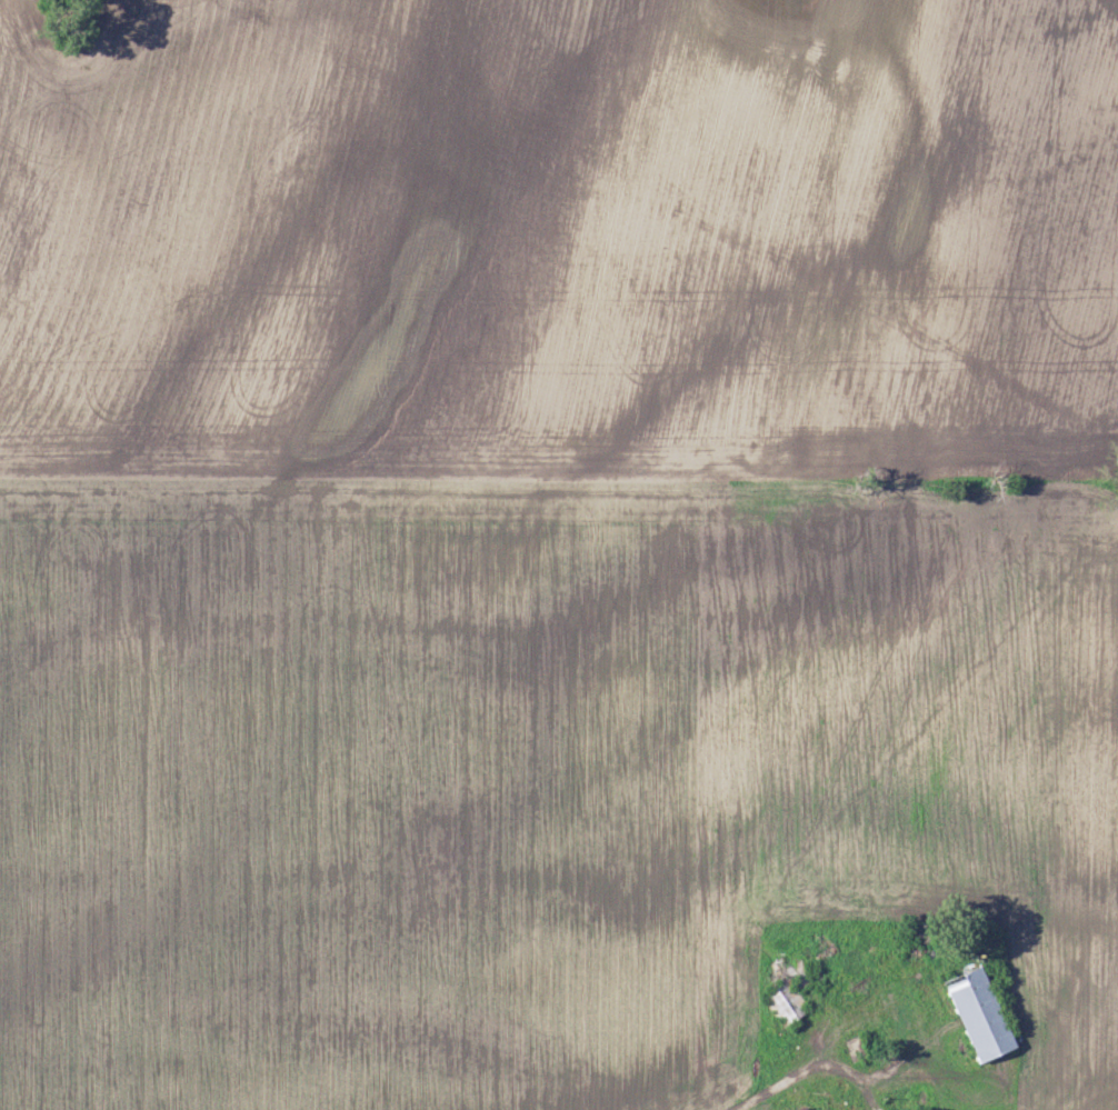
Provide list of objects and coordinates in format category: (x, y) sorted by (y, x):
building: (801, 1000)
building: (982, 1017)
road: (819, 1069)
building: (805, 1109)

